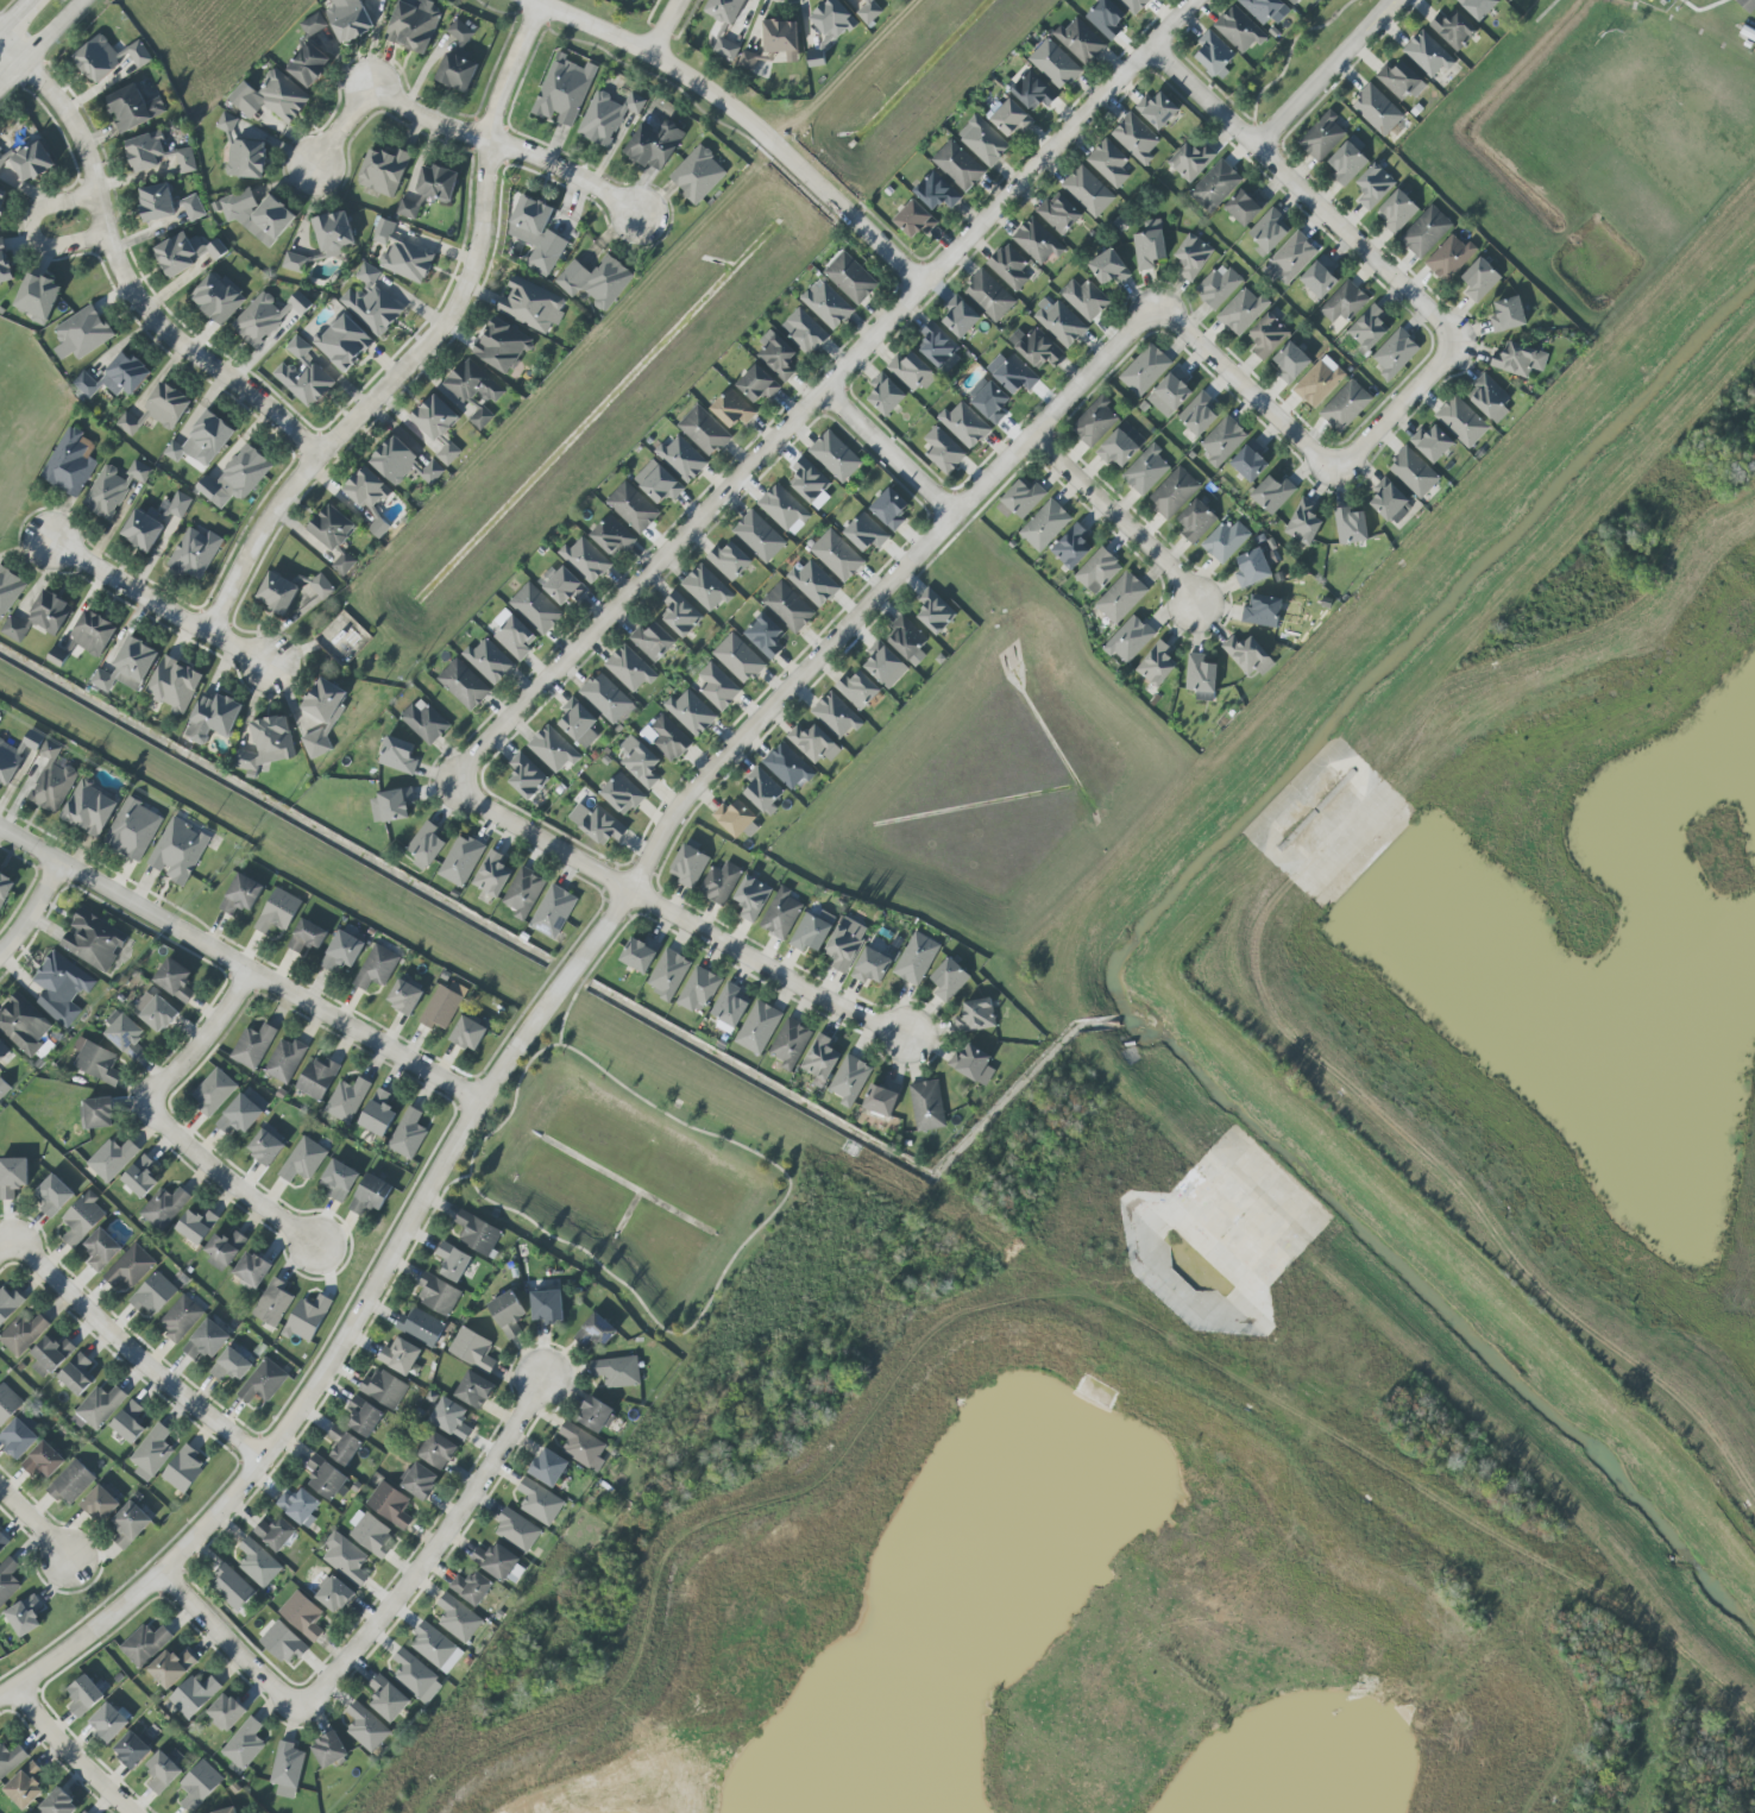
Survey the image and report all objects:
building: (1510, 0)
building: (1292, 1)
building: (1134, 5)
building: (1747, 5)
road: (1389, 7)
road: (1391, 7)
building: (1478, 7)
building: (1262, 8)
building: (724, 10)
building: (868, 11)
road: (19, 19)
building: (348, 19)
building: (1106, 19)
building: (313, 25)
building: (414, 25)
road: (666, 27)
building: (830, 27)
road: (54, 30)
building: (1239, 30)
building: (1453, 30)
building: (460, 32)
road: (0, 38)
building: (781, 38)
building: (1080, 42)
building: (726, 49)
building: (139, 53)
building: (1214, 55)
building: (1427, 55)
building: (97, 59)
building: (747, 61)
road: (1285, 62)
building: (309, 64)
building: (1055, 64)
building: (457, 71)
road: (12, 73)
road: (1321, 81)
building: (1401, 81)
building: (564, 90)
building: (1032, 90)
building: (271, 97)
building: (133, 108)
building: (1157, 111)
building: (1377, 111)
building: (608, 117)
building: (1009, 118)
road: (741, 119)
building: (227, 122)
road: (466, 136)
building: (1322, 137)
building: (1136, 138)
building: (982, 140)
building: (655, 144)
building: (145, 151)
building: (2, 157)
building: (246, 159)
building: (185, 160)
building: (1191, 160)
building: (32, 162)
building: (1109, 163)
building: (1347, 163)
building: (958, 165)
building: (383, 171)
building: (698, 175)
building: (1215, 185)
building: (1373, 187)
building: (430, 190)
building: (1088, 191)
building: (936, 193)
building: (2, 200)
building: (157, 202)
building: (1244, 207)
building: (193, 208)
building: (1396, 212)
building: (1059, 213)
building: (256, 215)
building: (914, 220)
building: (1269, 231)
building: (1426, 232)
road: (34, 233)
building: (333, 233)
building: (536, 234)
building: (1036, 241)
building: (1150, 245)
building: (402, 254)
building: (1193, 257)
building: (1291, 258)
building: (1451, 258)
building: (294, 262)
building: (5, 265)
building: (1009, 266)
building: (1109, 267)
road: (121, 273)
building: (850, 278)
building: (1320, 278)
building: (1480, 279)
building: (596, 282)
building: (1218, 285)
building: (989, 296)
building: (38, 297)
building: (218, 298)
building: (1084, 298)
building: (300, 303)
building: (371, 303)
building: (1344, 303)
building: (531, 306)
building: (828, 306)
building: (1243, 311)
building: (1508, 315)
building: (960, 317)
building: (259, 320)
building: (1059, 322)
building: (1367, 329)
building: (805, 331)
building: (82, 334)
road: (1445, 335)
building: (1267, 336)
building: (342, 342)
road: (428, 344)
building: (501, 345)
building: (938, 347)
building: (1036, 348)
building: (1395, 353)
building: (776, 355)
building: (1518, 360)
building: (1291, 363)
building: (1144, 371)
building: (911, 372)
building: (1012, 373)
building: (303, 374)
building: (114, 378)
building: (1319, 382)
building: (472, 383)
building: (757, 384)
building: (1170, 394)
building: (886, 395)
building: (1489, 398)
building: (988, 399)
building: (166, 405)
building: (1345, 407)
building: (732, 409)
building: (1199, 415)
building: (434, 417)
building: (480, 418)
building: (1095, 422)
building: (1461, 422)
building: (128, 424)
building: (964, 424)
building: (704, 432)
building: (203, 441)
building: (1224, 441)
building: (1432, 443)
building: (943, 451)
building: (448, 453)
road: (888, 454)
building: (835, 457)
building: (681, 459)
building: (71, 462)
building: (1248, 462)
building: (402, 464)
road: (750, 464)
building: (1146, 471)
building: (1413, 472)
building: (235, 478)
building: (807, 480)
building: (661, 485)
building: (113, 489)
building: (367, 490)
building: (1174, 493)
building: (1272, 493)
building: (1023, 498)
building: (1390, 502)
building: (180, 505)
building: (633, 508)
building: (782, 508)
building: (891, 509)
road: (1116, 517)
building: (1196, 521)
building: (1303, 522)
building: (1045, 525)
building: (1350, 525)
building: (332, 528)
building: (378, 528)
building: (143, 530)
building: (866, 533)
building: (759, 536)
building: (612, 537)
building: (1225, 541)
building: (1071, 547)
building: (195, 553)
building: (837, 555)
building: (585, 560)
building: (729, 561)
building: (344, 565)
building: (1254, 565)
building: (1097, 571)
building: (813, 583)
building: (321, 587)
building: (565, 587)
building: (705, 588)
building: (8, 590)
building: (277, 593)
building: (1121, 597)
road: (163, 605)
building: (788, 608)
building: (536, 609)
building: (1262, 611)
building: (50, 612)
building: (935, 612)
building: (680, 615)
building: (14, 630)
building: (93, 634)
building: (765, 636)
building: (515, 637)
building: (1128, 640)
building: (907, 641)
building: (653, 642)
building: (1248, 655)
building: (738, 659)
building: (489, 661)
building: (1157, 665)
building: (885, 666)
building: (128, 667)
building: (629, 668)
building: (1201, 678)
building: (174, 685)
building: (463, 685)
building: (716, 686)
building: (857, 690)
building: (606, 698)
building: (691, 712)
building: (0, 715)
building: (322, 716)
building: (836, 716)
building: (213, 718)
building: (424, 722)
building: (578, 723)
building: (666, 738)
building: (813, 743)
building: (268, 744)
building: (553, 749)
building: (398, 755)
building: (15, 756)
building: (640, 762)
building: (787, 767)
building: (527, 776)
building: (762, 791)
building: (622, 794)
building: (391, 806)
building: (89, 808)
building: (735, 820)
building: (597, 824)
building: (133, 830)
building: (426, 846)
building: (178, 851)
building: (461, 861)
building: (688, 865)
building: (492, 875)
building: (721, 883)
building: (5, 888)
building: (523, 893)
building: (241, 894)
building: (751, 898)
road: (33, 912)
building: (278, 912)
building: (553, 912)
building: (781, 914)
building: (811, 933)
building: (307, 937)
building: (93, 942)
building: (845, 944)
building: (342, 952)
building: (639, 956)
building: (917, 959)
road: (240, 965)
road: (770, 967)
building: (872, 967)
building: (376, 968)
building: (668, 975)
building: (175, 980)
building: (949, 980)
building: (62, 988)
building: (699, 990)
road: (560, 994)
building: (404, 996)
building: (731, 1006)
building: (441, 1008)
building: (155, 1011)
building: (975, 1016)
building: (23, 1025)
building: (759, 1027)
building: (125, 1033)
building: (468, 1034)
building: (790, 1044)
building: (253, 1046)
building: (4, 1051)
building: (285, 1060)
building: (820, 1060)
building: (96, 1062)
building: (973, 1064)
building: (317, 1078)
building: (850, 1081)
building: (4, 1088)
building: (213, 1091)
building: (882, 1098)
building: (347, 1100)
building: (927, 1106)
building: (99, 1113)
building: (378, 1113)
building: (239, 1115)
road: (166, 1125)
building: (408, 1134)
building: (268, 1145)
building: (112, 1159)
building: (303, 1160)
road: (776, 1169)
building: (12, 1177)
building: (140, 1177)
building: (339, 1181)
road: (448, 1186)
building: (52, 1195)
building: (370, 1195)
building: (164, 1208)
building: (82, 1219)
building: (196, 1226)
building: (477, 1233)
building: (101, 1249)
building: (224, 1249)
road: (6, 1254)
building: (453, 1263)
building: (130, 1267)
building: (251, 1270)
building: (153, 1295)
building: (438, 1295)
building: (8, 1303)
building: (272, 1303)
building: (547, 1307)
building: (508, 1314)
building: (180, 1318)
building: (307, 1318)
building: (421, 1327)
building: (595, 1332)
building: (23, 1334)
building: (207, 1341)
building: (473, 1349)
building: (50, 1355)
road: (136, 1355)
building: (400, 1356)
building: (232, 1365)
building: (616, 1371)
building: (77, 1374)
building: (264, 1381)
building: (384, 1389)
building: (474, 1390)
building: (7, 1404)
building: (100, 1406)
building: (595, 1415)
building: (363, 1416)
building: (451, 1418)
building: (130, 1423)
building: (18, 1439)
building: (342, 1446)
building: (581, 1447)
building: (438, 1450)
building: (152, 1453)
building: (44, 1461)
building: (548, 1467)
building: (184, 1469)
building: (325, 1478)
building: (419, 1481)
building: (71, 1482)
building: (539, 1502)
building: (100, 1504)
building: (390, 1505)
building: (300, 1507)
road: (34, 1523)
building: (130, 1524)
building: (517, 1530)
building: (275, 1534)
building: (370, 1534)
building: (2, 1542)
building: (346, 1559)
building: (496, 1561)
building: (258, 1563)
building: (7, 1580)
building: (232, 1587)
building: (471, 1587)
building: (333, 1593)
building: (302, 1616)
building: (25, 1617)
building: (458, 1619)
road: (373, 1624)
building: (283, 1643)
building: (145, 1644)
building: (435, 1648)
building: (171, 1668)
building: (416, 1676)
building: (84, 1695)
building: (194, 1695)
building: (388, 1699)
building: (226, 1712)
building: (108, 1723)
building: (366, 1727)
building: (244, 1744)
building: (132, 1750)
building: (328, 1750)
road: (70, 1754)
building: (11, 1760)
building: (287, 1770)
building: (162, 1773)
building: (25, 1786)
building: (200, 1786)
building: (58, 1803)
building: (228, 1811)
building: (84, 1812)

